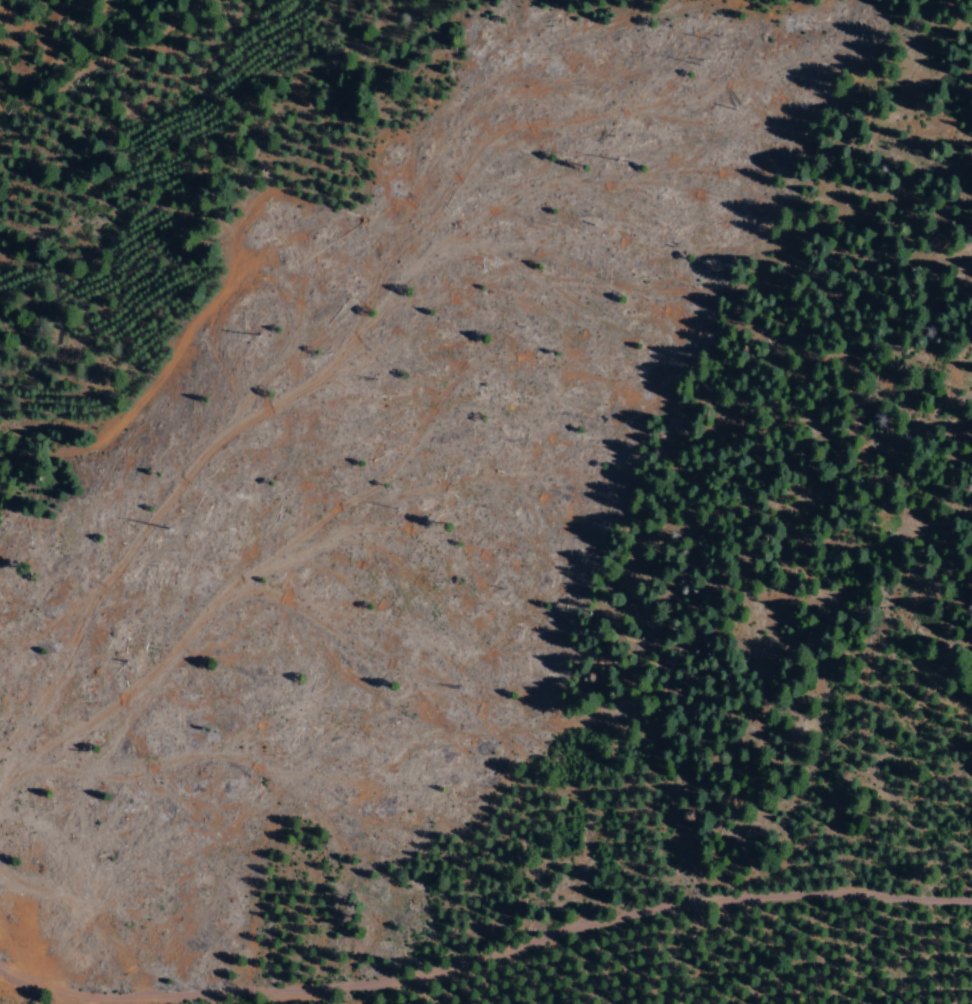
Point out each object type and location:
road: (130, 71)
road: (482, 951)

